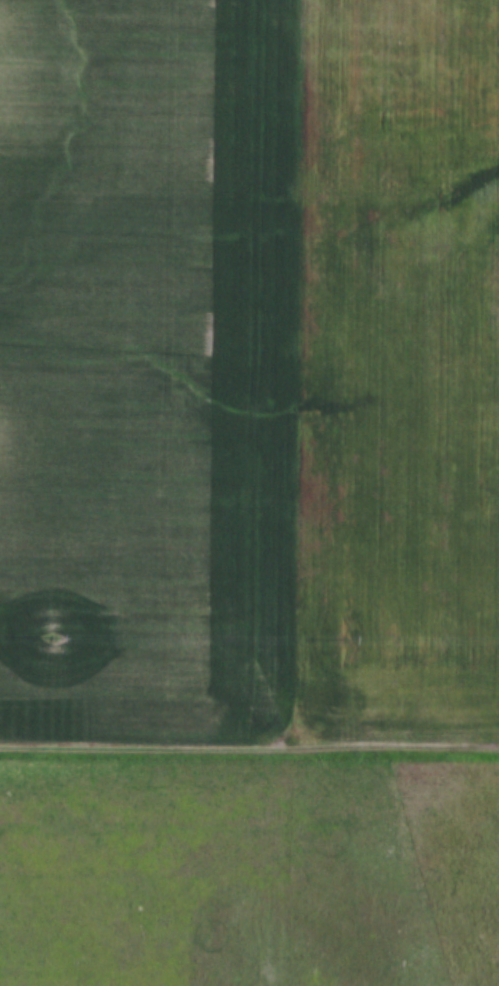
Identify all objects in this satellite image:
road: (249, 739)

